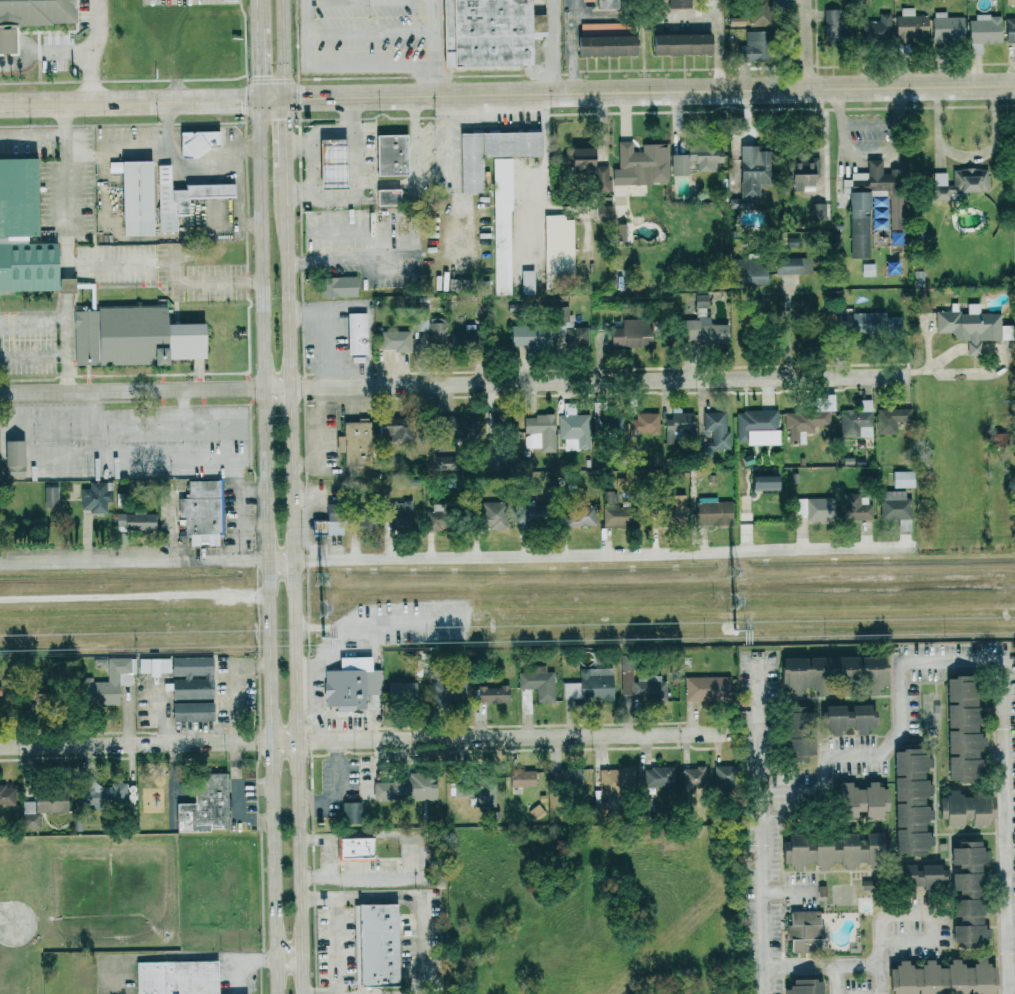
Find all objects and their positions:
road: (372, 2)
building: (603, 3)
building: (678, 3)
building: (33, 11)
building: (759, 12)
road: (259, 14)
road: (591, 16)
road: (693, 16)
building: (833, 25)
building: (910, 25)
building: (946, 26)
building: (874, 29)
building: (1009, 29)
building: (592, 30)
building: (487, 32)
building: (983, 32)
road: (373, 34)
road: (723, 43)
building: (680, 44)
road: (803, 44)
building: (605, 45)
road: (556, 46)
road: (573, 46)
road: (437, 47)
building: (753, 47)
road: (283, 48)
road: (96, 50)
road: (46, 52)
road: (260, 62)
road: (339, 67)
road: (649, 90)
road: (279, 97)
road: (137, 100)
road: (898, 105)
road: (836, 106)
road: (867, 126)
road: (333, 130)
road: (285, 131)
road: (821, 133)
road: (894, 133)
road: (842, 134)
road: (34, 141)
building: (197, 142)
building: (491, 152)
building: (390, 154)
road: (868, 154)
road: (355, 156)
road: (964, 157)
building: (696, 159)
road: (174, 160)
building: (581, 161)
building: (331, 163)
road: (68, 164)
building: (641, 164)
building: (753, 170)
building: (803, 173)
building: (601, 179)
building: (959, 182)
road: (393, 183)
road: (237, 185)
building: (134, 196)
building: (181, 197)
building: (387, 197)
building: (742, 202)
building: (864, 204)
building: (817, 211)
building: (894, 211)
building: (604, 213)
building: (502, 225)
road: (339, 229)
building: (22, 232)
building: (621, 232)
road: (369, 244)
building: (558, 247)
road: (329, 261)
building: (787, 265)
building: (868, 269)
building: (748, 273)
road: (202, 281)
building: (527, 281)
building: (64, 285)
building: (337, 286)
building: (875, 323)
road: (63, 325)
building: (703, 325)
building: (971, 326)
building: (431, 327)
road: (788, 327)
building: (569, 328)
building: (356, 333)
building: (631, 333)
building: (529, 336)
building: (132, 337)
building: (466, 338)
building: (395, 340)
road: (32, 355)
road: (595, 380)
road: (138, 389)
building: (809, 418)
building: (680, 420)
building: (891, 420)
building: (857, 421)
building: (644, 423)
building: (611, 424)
building: (757, 427)
building: (394, 429)
building: (459, 430)
building: (573, 431)
building: (539, 432)
building: (714, 433)
building: (998, 439)
building: (354, 441)
road: (227, 451)
building: (13, 458)
building: (903, 479)
building: (764, 482)
road: (254, 489)
building: (50, 497)
building: (95, 498)
building: (814, 508)
building: (855, 508)
building: (896, 508)
building: (616, 509)
building: (675, 510)
building: (201, 512)
building: (713, 513)
building: (529, 514)
building: (399, 515)
building: (489, 516)
building: (580, 516)
building: (436, 517)
building: (361, 518)
road: (254, 521)
building: (134, 522)
building: (323, 526)
road: (269, 545)
road: (599, 546)
road: (140, 553)
power tower: (732, 573)
power tower: (322, 579)
road: (294, 580)
road: (135, 600)
power tower: (322, 605)
power tower: (734, 627)
power tower: (323, 637)
road: (994, 660)
building: (154, 666)
building: (831, 672)
building: (191, 677)
building: (538, 682)
building: (346, 683)
building: (639, 683)
building: (106, 684)
building: (590, 685)
road: (233, 687)
building: (707, 689)
building: (401, 690)
building: (447, 692)
building: (492, 694)
building: (192, 711)
building: (848, 719)
building: (961, 730)
building: (797, 734)
road: (509, 737)
road: (142, 743)
road: (173, 769)
building: (723, 776)
building: (570, 777)
building: (522, 778)
building: (658, 779)
building: (617, 780)
building: (693, 780)
road: (267, 784)
building: (407, 787)
road: (337, 789)
building: (482, 792)
building: (100, 793)
building: (7, 795)
road: (234, 798)
building: (861, 801)
building: (911, 801)
building: (42, 805)
building: (204, 805)
building: (965, 809)
building: (352, 812)
road: (762, 825)
building: (354, 848)
building: (832, 850)
road: (412, 857)
road: (329, 858)
building: (918, 875)
road: (790, 892)
building: (966, 892)
road: (409, 896)
road: (7, 918)
road: (932, 918)
building: (804, 932)
building: (377, 945)
road: (335, 946)
road: (291, 957)
road: (246, 961)
road: (822, 966)
road: (880, 967)
building: (176, 977)
building: (941, 978)
road: (837, 980)
building: (803, 987)

